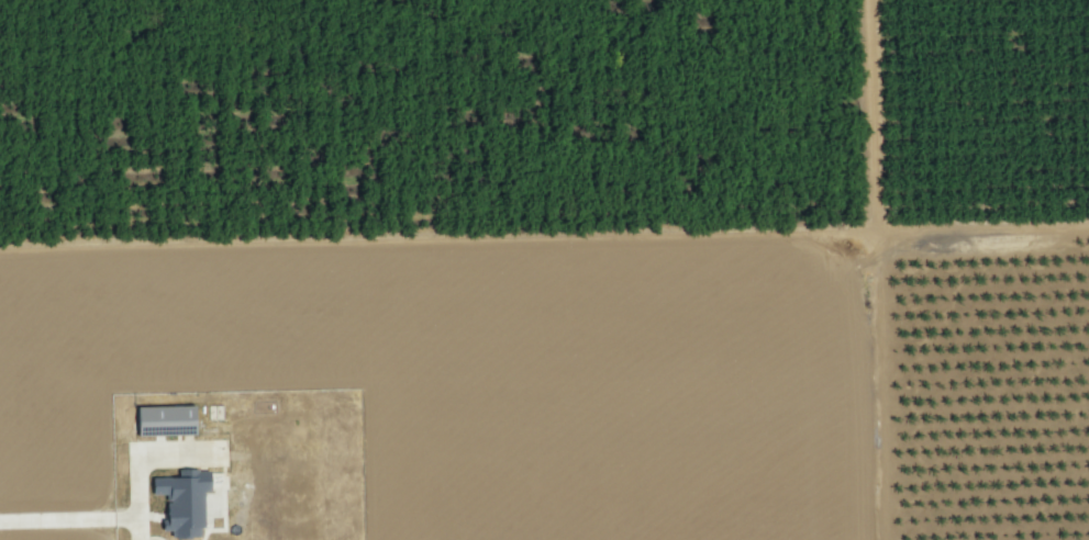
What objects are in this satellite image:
building: (163, 420)
road: (90, 510)

